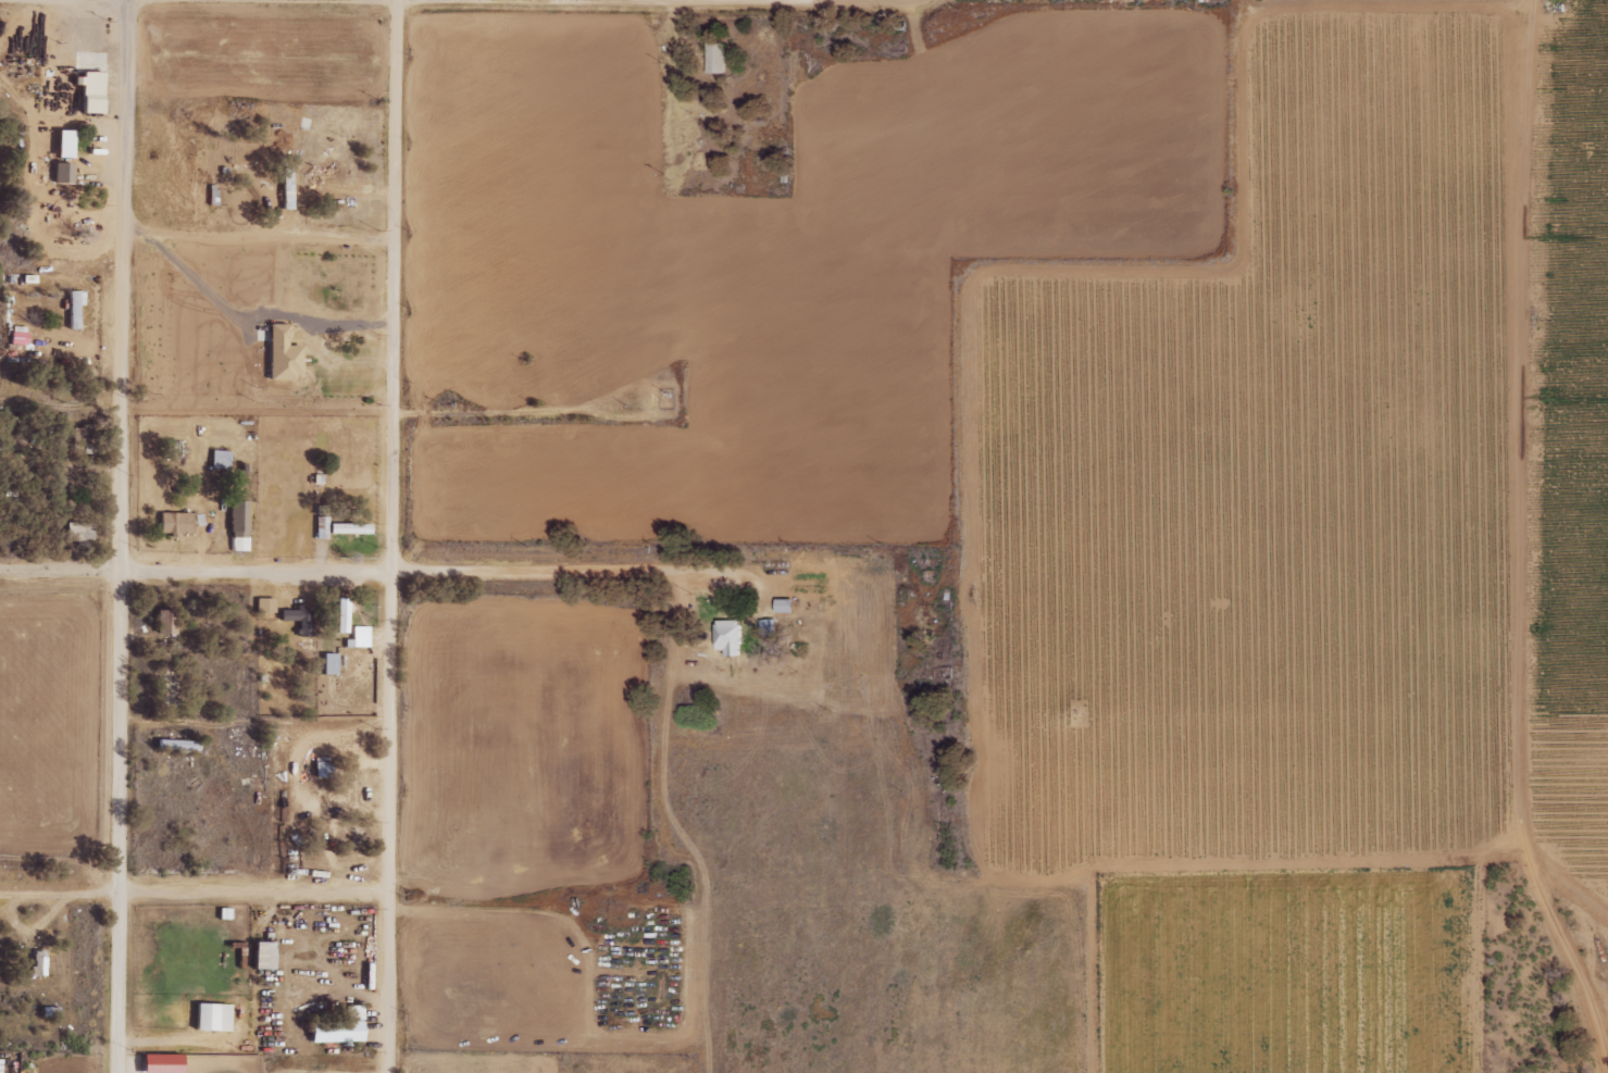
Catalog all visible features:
road: (875, 1)
building: (712, 58)
building: (88, 92)
building: (61, 145)
building: (60, 174)
road: (187, 277)
building: (72, 308)
building: (16, 338)
building: (279, 354)
building: (82, 439)
building: (217, 460)
building: (176, 523)
building: (236, 527)
building: (347, 529)
road: (121, 536)
road: (392, 536)
road: (1518, 544)
road: (333, 569)
building: (263, 606)
building: (781, 606)
building: (339, 615)
building: (297, 620)
building: (164, 622)
building: (765, 627)
building: (724, 637)
building: (357, 638)
building: (328, 664)
building: (319, 772)
road: (255, 889)
road: (61, 893)
building: (258, 957)
building: (36, 964)
building: (209, 1018)
building: (336, 1028)
building: (158, 1063)

